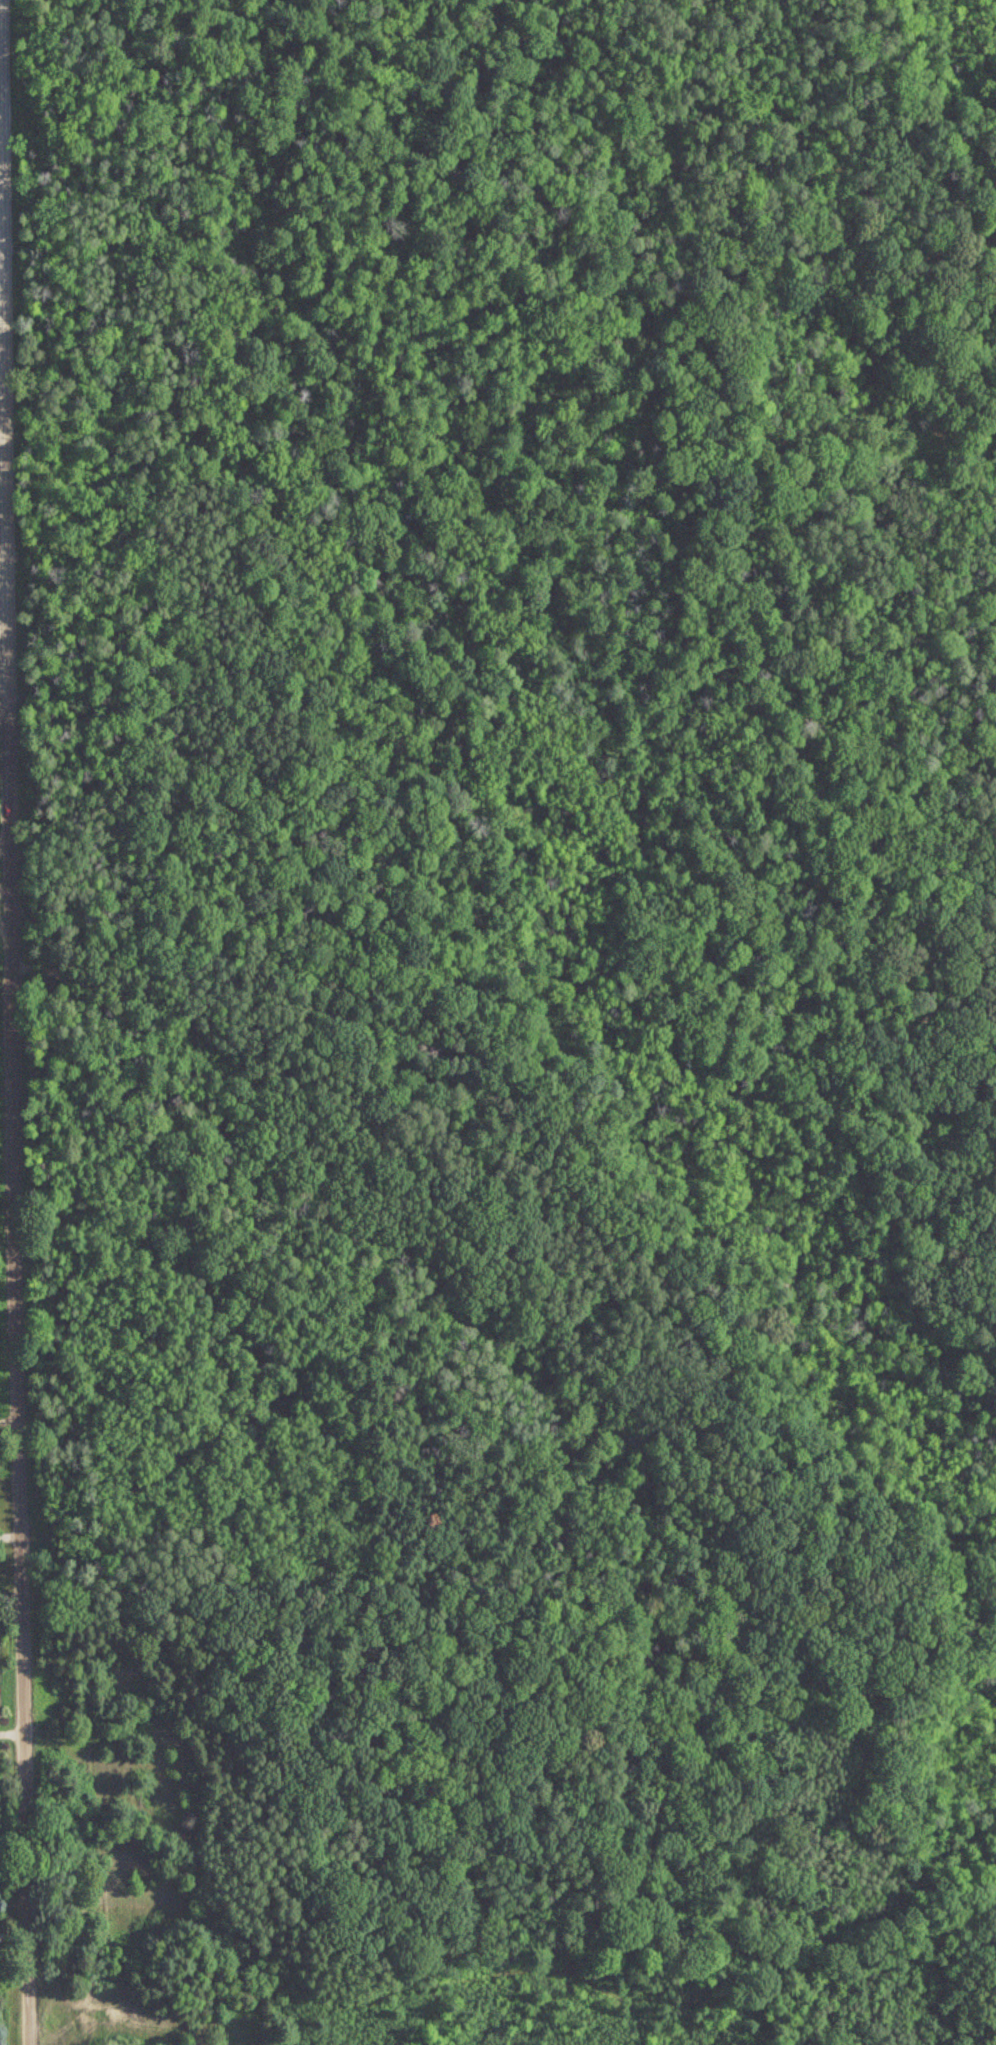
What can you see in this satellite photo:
road: (12, 1022)
road: (8, 1425)
road: (12, 1926)

